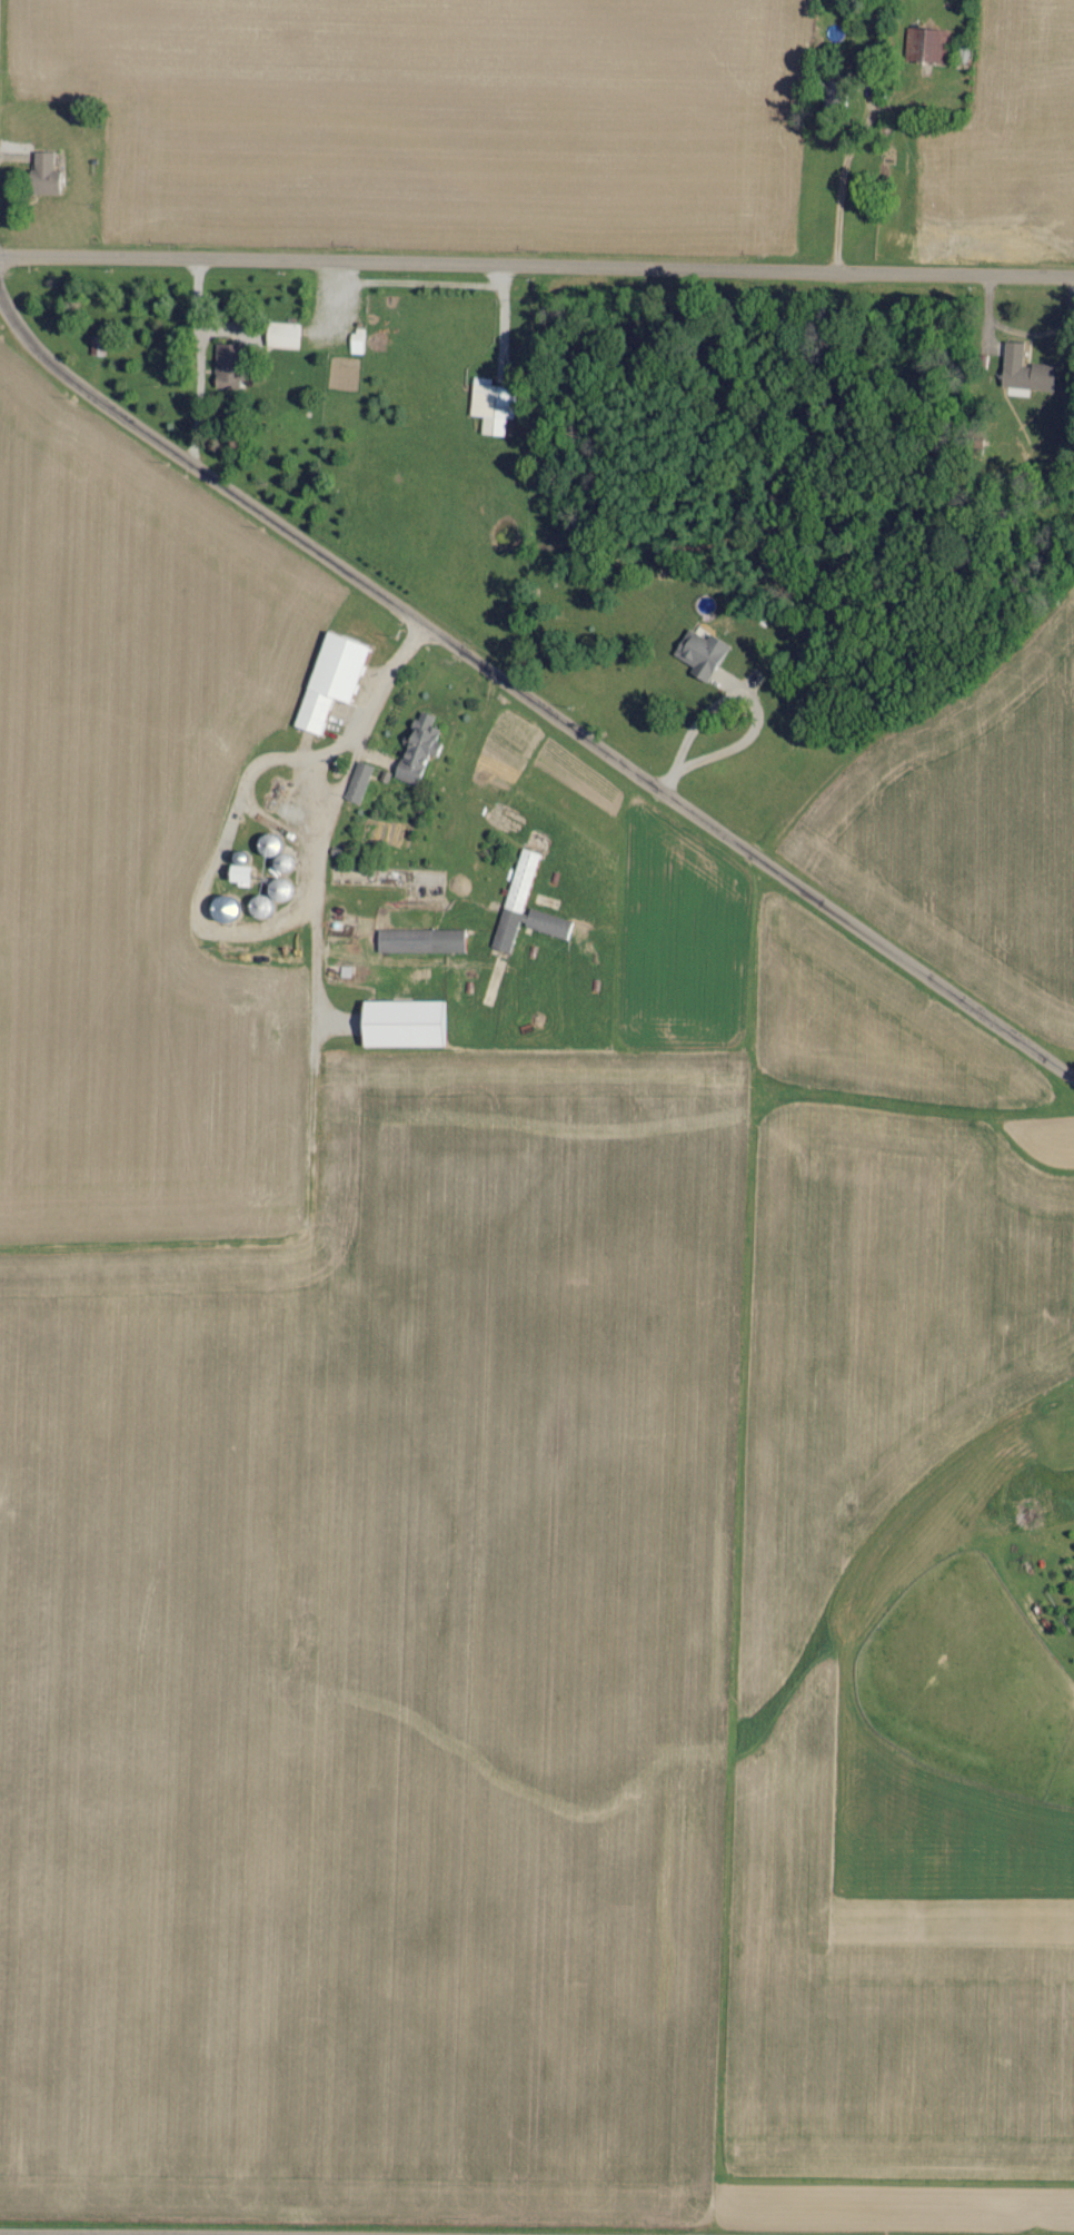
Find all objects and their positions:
building: (925, 46)
building: (42, 172)
road: (537, 265)
building: (282, 335)
building: (357, 340)
building: (226, 366)
building: (1024, 372)
building: (493, 405)
building: (699, 654)
building: (329, 681)
road: (527, 693)
building: (417, 751)
building: (357, 782)
building: (237, 876)
building: (525, 907)
building: (220, 909)
building: (420, 941)
building: (401, 1025)
road: (57, 2234)

